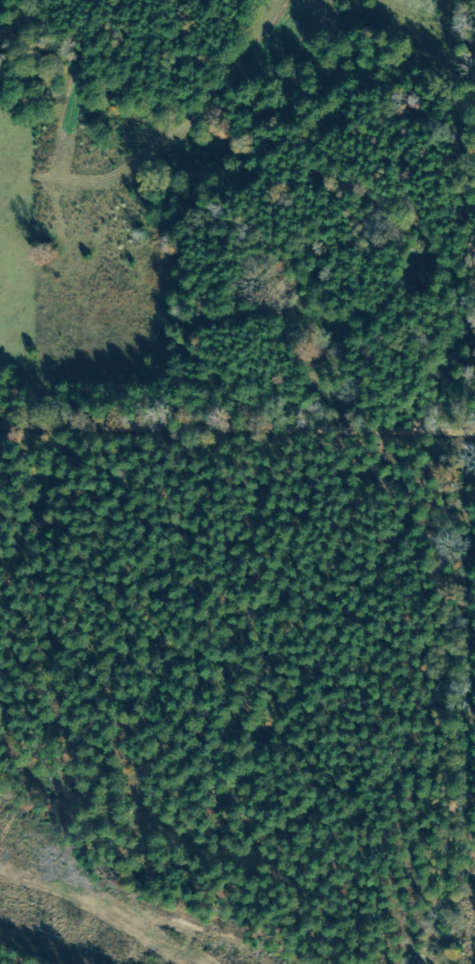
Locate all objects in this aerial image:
road: (237, 425)
road: (462, 607)

